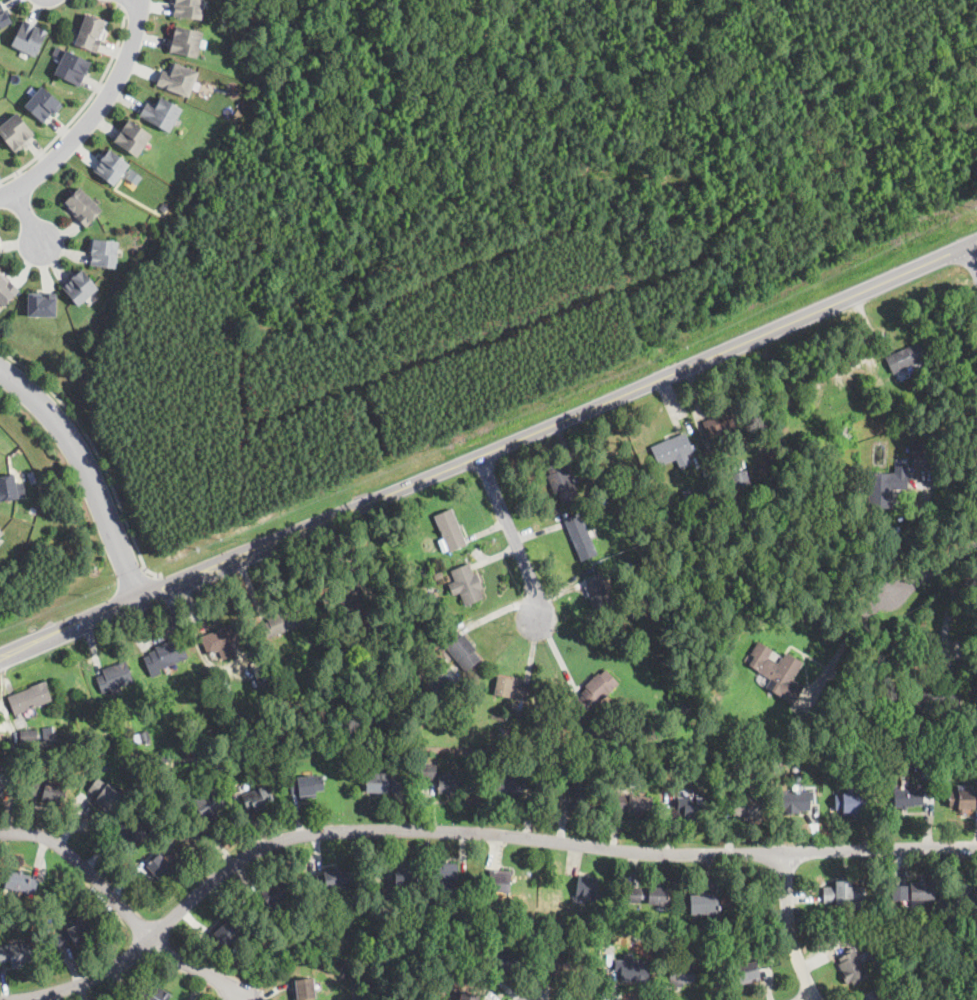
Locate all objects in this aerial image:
road: (120, 2)
building: (188, 8)
building: (4, 16)
building: (92, 33)
building: (29, 37)
building: (184, 40)
building: (72, 66)
building: (177, 79)
building: (42, 103)
road: (84, 104)
building: (161, 113)
road: (94, 114)
building: (15, 132)
building: (132, 138)
building: (111, 166)
road: (506, 188)
building: (82, 207)
building: (164, 207)
road: (27, 217)
building: (104, 252)
building: (0, 253)
road: (972, 256)
road: (553, 272)
building: (78, 286)
road: (693, 289)
building: (6, 291)
building: (42, 305)
road: (869, 342)
building: (907, 358)
building: (931, 370)
building: (801, 378)
building: (905, 418)
building: (725, 422)
road: (94, 449)
road: (488, 451)
building: (673, 451)
building: (923, 455)
building: (761, 468)
road: (87, 471)
building: (561, 481)
building: (741, 481)
building: (844, 484)
building: (886, 487)
building: (8, 488)
building: (638, 495)
building: (688, 495)
building: (602, 502)
building: (652, 523)
building: (451, 531)
building: (1, 533)
road: (515, 534)
building: (581, 536)
building: (810, 536)
building: (895, 548)
road: (936, 568)
building: (439, 577)
building: (467, 584)
building: (597, 591)
building: (431, 596)
building: (344, 597)
building: (282, 621)
road: (947, 623)
building: (376, 635)
road: (847, 639)
building: (225, 640)
building: (460, 650)
building: (411, 652)
building: (166, 656)
building: (777, 672)
building: (113, 679)
building: (511, 688)
building: (597, 690)
building: (705, 697)
building: (29, 699)
building: (926, 703)
building: (299, 708)
building: (685, 708)
building: (503, 734)
building: (943, 735)
building: (49, 736)
building: (514, 736)
building: (597, 736)
building: (143, 737)
building: (522, 737)
building: (29, 738)
building: (494, 739)
building: (533, 740)
building: (244, 745)
building: (620, 745)
building: (163, 758)
building: (709, 762)
building: (948, 762)
building: (216, 764)
building: (925, 768)
building: (734, 771)
building: (427, 772)
building: (6, 782)
building: (384, 782)
building: (449, 784)
building: (508, 785)
building: (307, 787)
building: (48, 792)
building: (105, 795)
building: (574, 797)
building: (908, 797)
building: (258, 799)
building: (962, 800)
building: (209, 803)
building: (794, 803)
building: (632, 804)
building: (851, 804)
building: (691, 806)
building: (749, 807)
road: (464, 830)
building: (132, 832)
building: (193, 839)
road: (85, 867)
building: (160, 868)
building: (443, 877)
building: (404, 879)
building: (334, 881)
building: (498, 881)
building: (19, 882)
building: (587, 888)
building: (898, 892)
building: (843, 894)
building: (921, 894)
building: (272, 896)
building: (646, 896)
building: (966, 897)
building: (389, 898)
building: (705, 902)
building: (941, 908)
building: (890, 911)
building: (898, 917)
building: (951, 917)
building: (402, 920)
road: (789, 928)
building: (228, 933)
building: (77, 936)
building: (14, 954)
building: (502, 959)
building: (900, 959)
building: (257, 964)
building: (564, 964)
road: (197, 968)
building: (852, 968)
building: (632, 970)
building: (681, 972)
building: (747, 973)
building: (304, 989)
building: (152, 992)
building: (875, 994)
building: (468, 996)
road: (808, 996)

